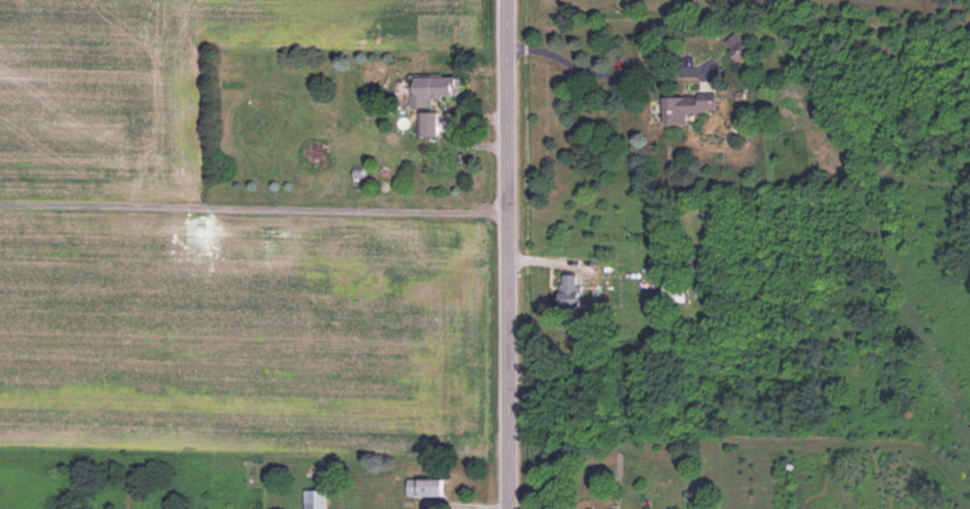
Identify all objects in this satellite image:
building: (736, 47)
road: (603, 73)
building: (432, 91)
building: (685, 109)
building: (427, 126)
road: (252, 207)
road: (504, 254)
building: (567, 290)
building: (672, 292)
building: (424, 489)
building: (315, 500)

